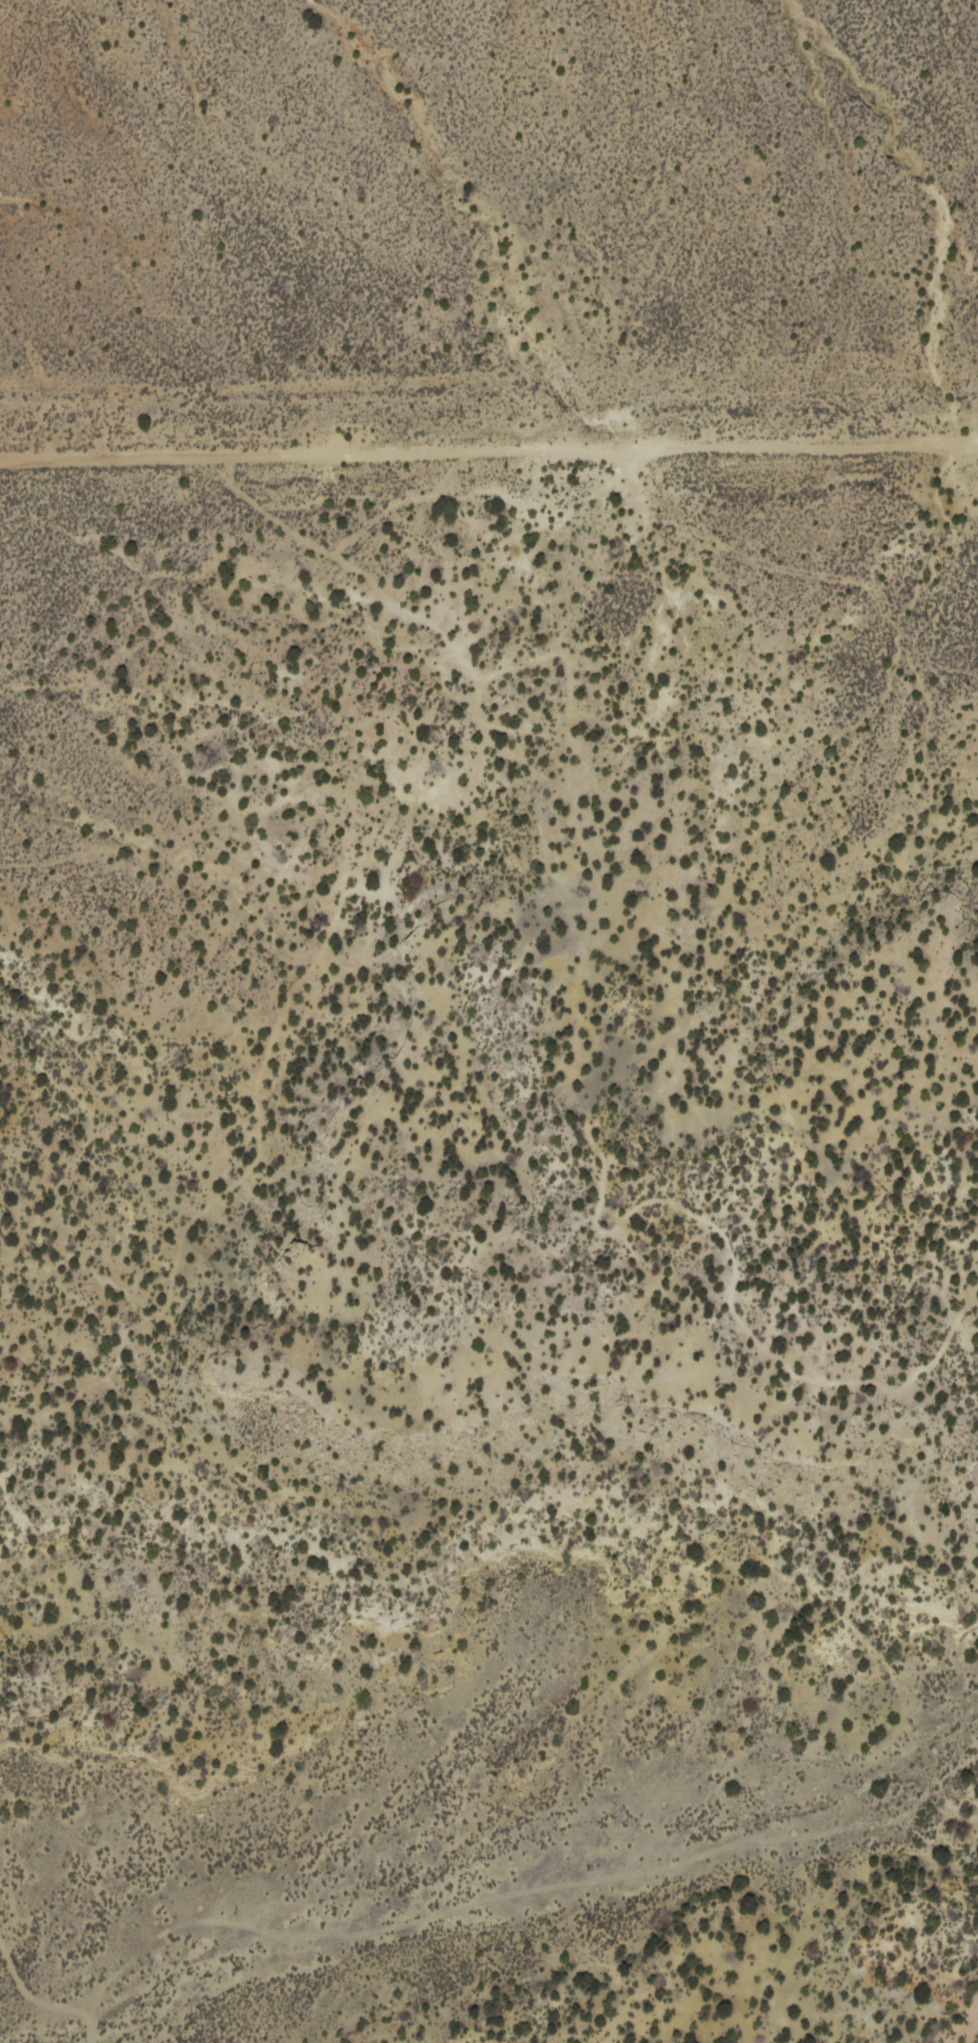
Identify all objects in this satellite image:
road: (488, 452)

